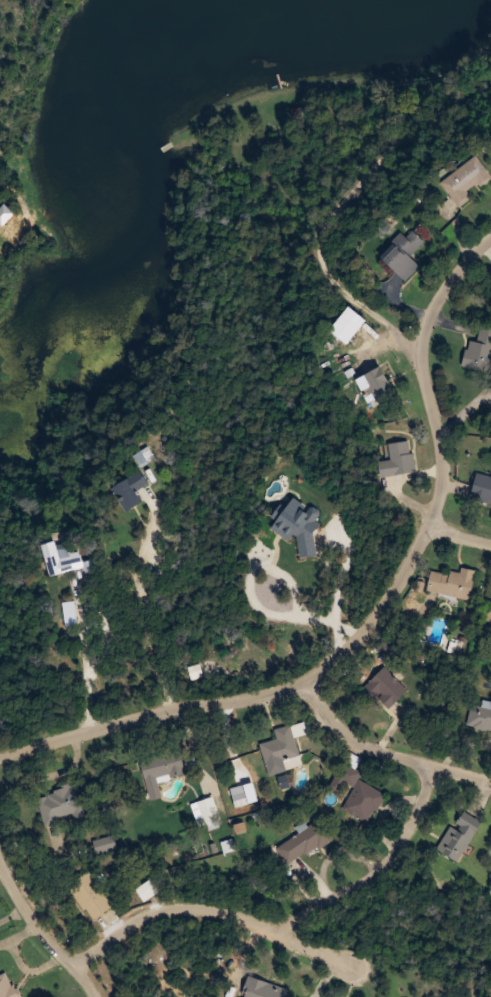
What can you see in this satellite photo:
building: (465, 181)
building: (5, 213)
building: (403, 254)
building: (479, 351)
building: (378, 384)
building: (398, 459)
road: (326, 469)
building: (482, 487)
building: (129, 490)
road: (462, 525)
building: (62, 559)
building: (451, 582)
road: (376, 616)
building: (386, 688)
building: (480, 715)
building: (280, 746)
road: (385, 749)
building: (161, 771)
building: (358, 791)
building: (239, 796)
building: (59, 804)
building: (207, 814)
building: (456, 838)
building: (304, 841)
building: (147, 889)
building: (91, 895)
road: (38, 928)
road: (280, 928)
road: (332, 956)
building: (7, 986)
building: (262, 989)

